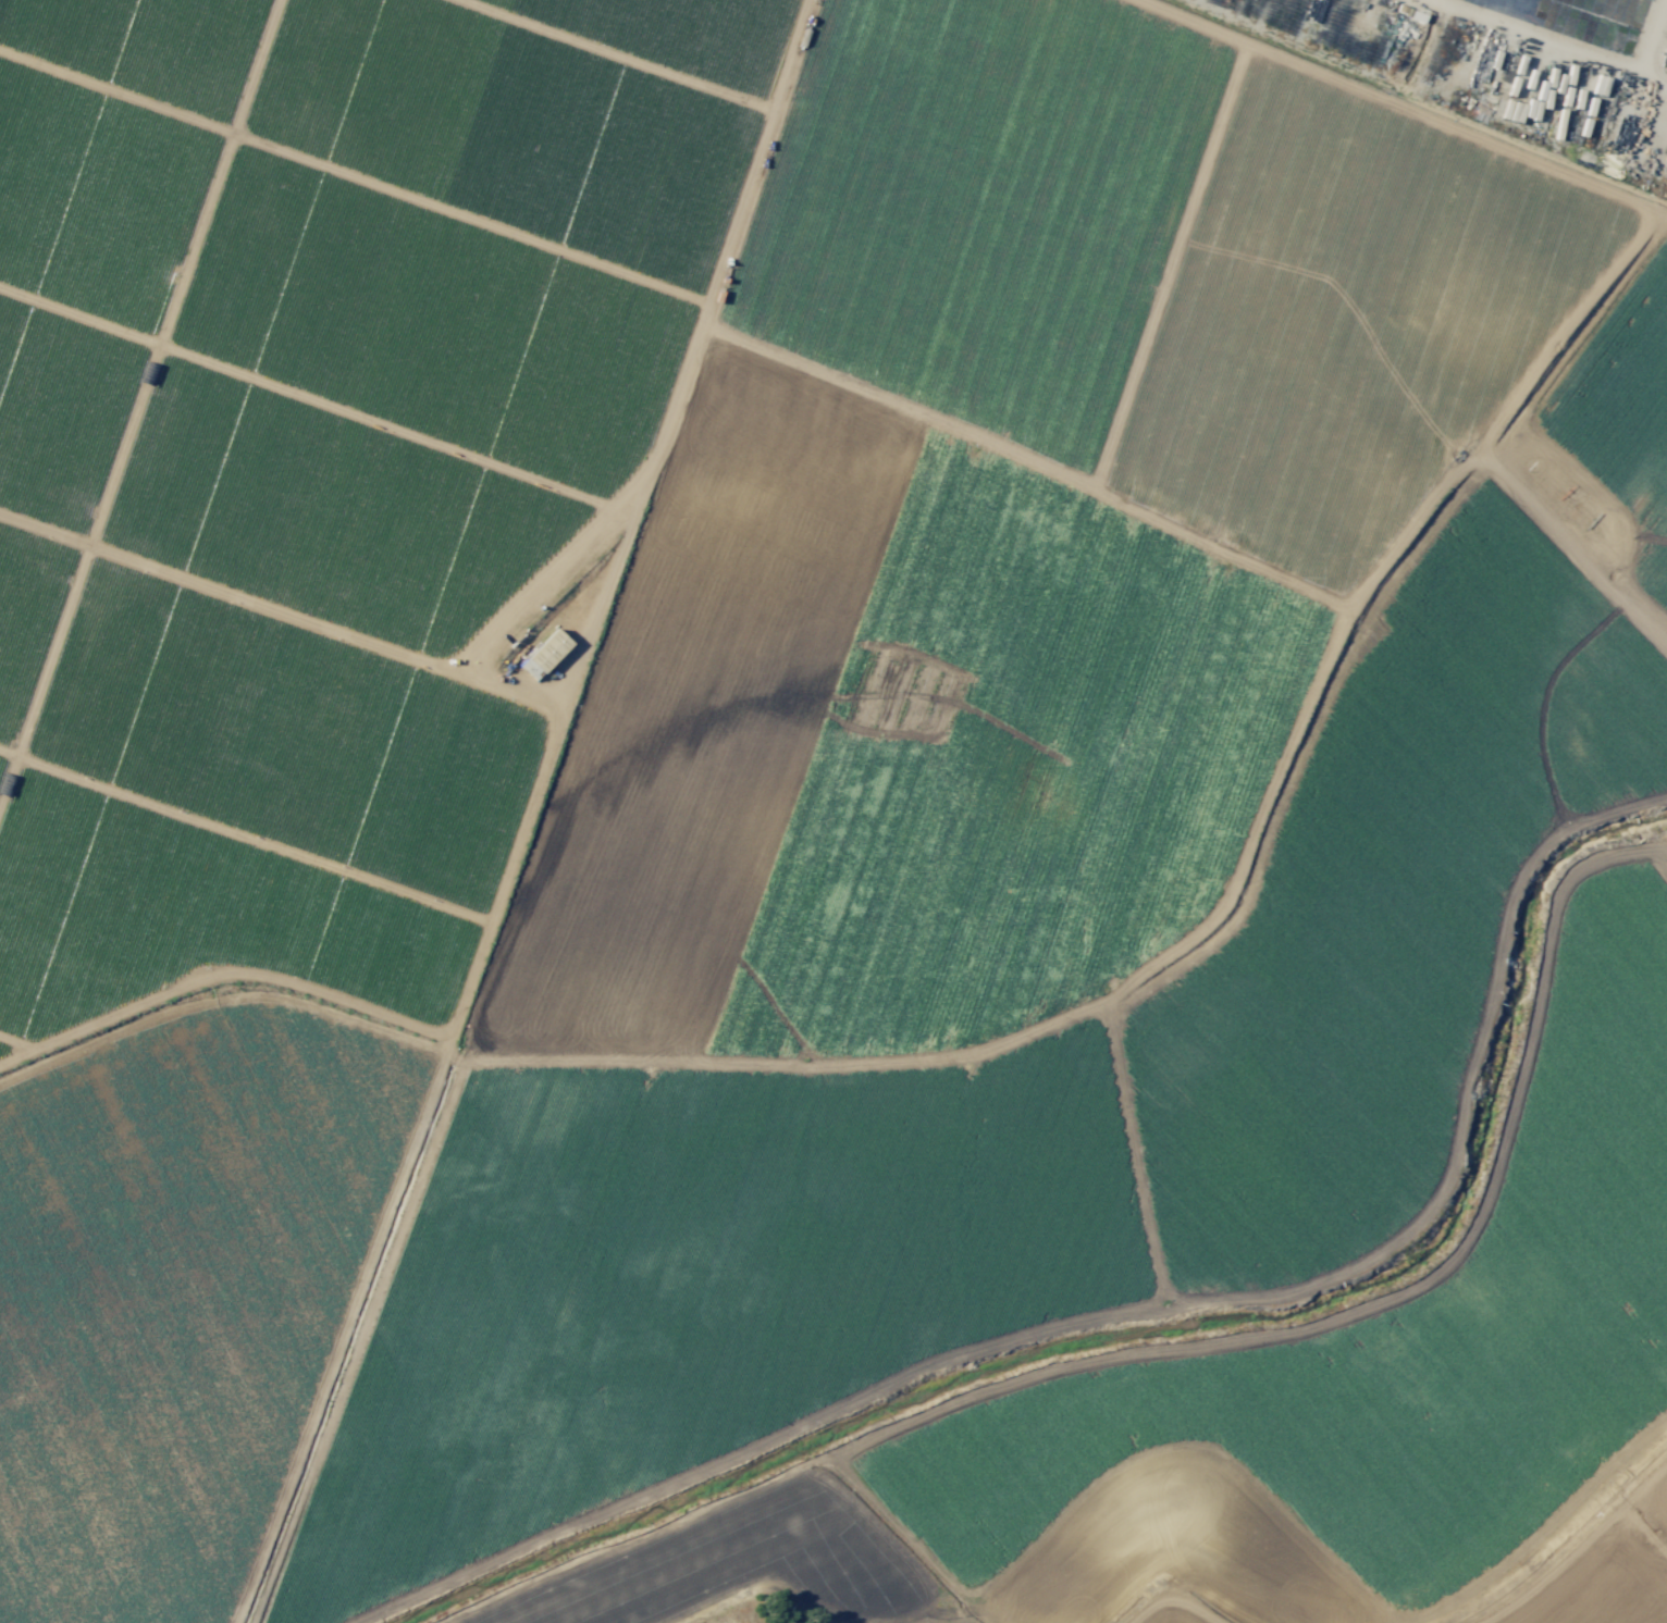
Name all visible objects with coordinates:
road: (1655, 38)
road: (1554, 40)
road: (1576, 557)
building: (545, 654)
road: (1472, 726)
road: (1304, 744)
crop: (823, 820)
road: (1369, 952)
road: (1304, 1090)
road: (1466, 1103)
road: (1141, 1157)
road: (1292, 1333)
road: (1584, 1545)
road: (1170, 1605)

